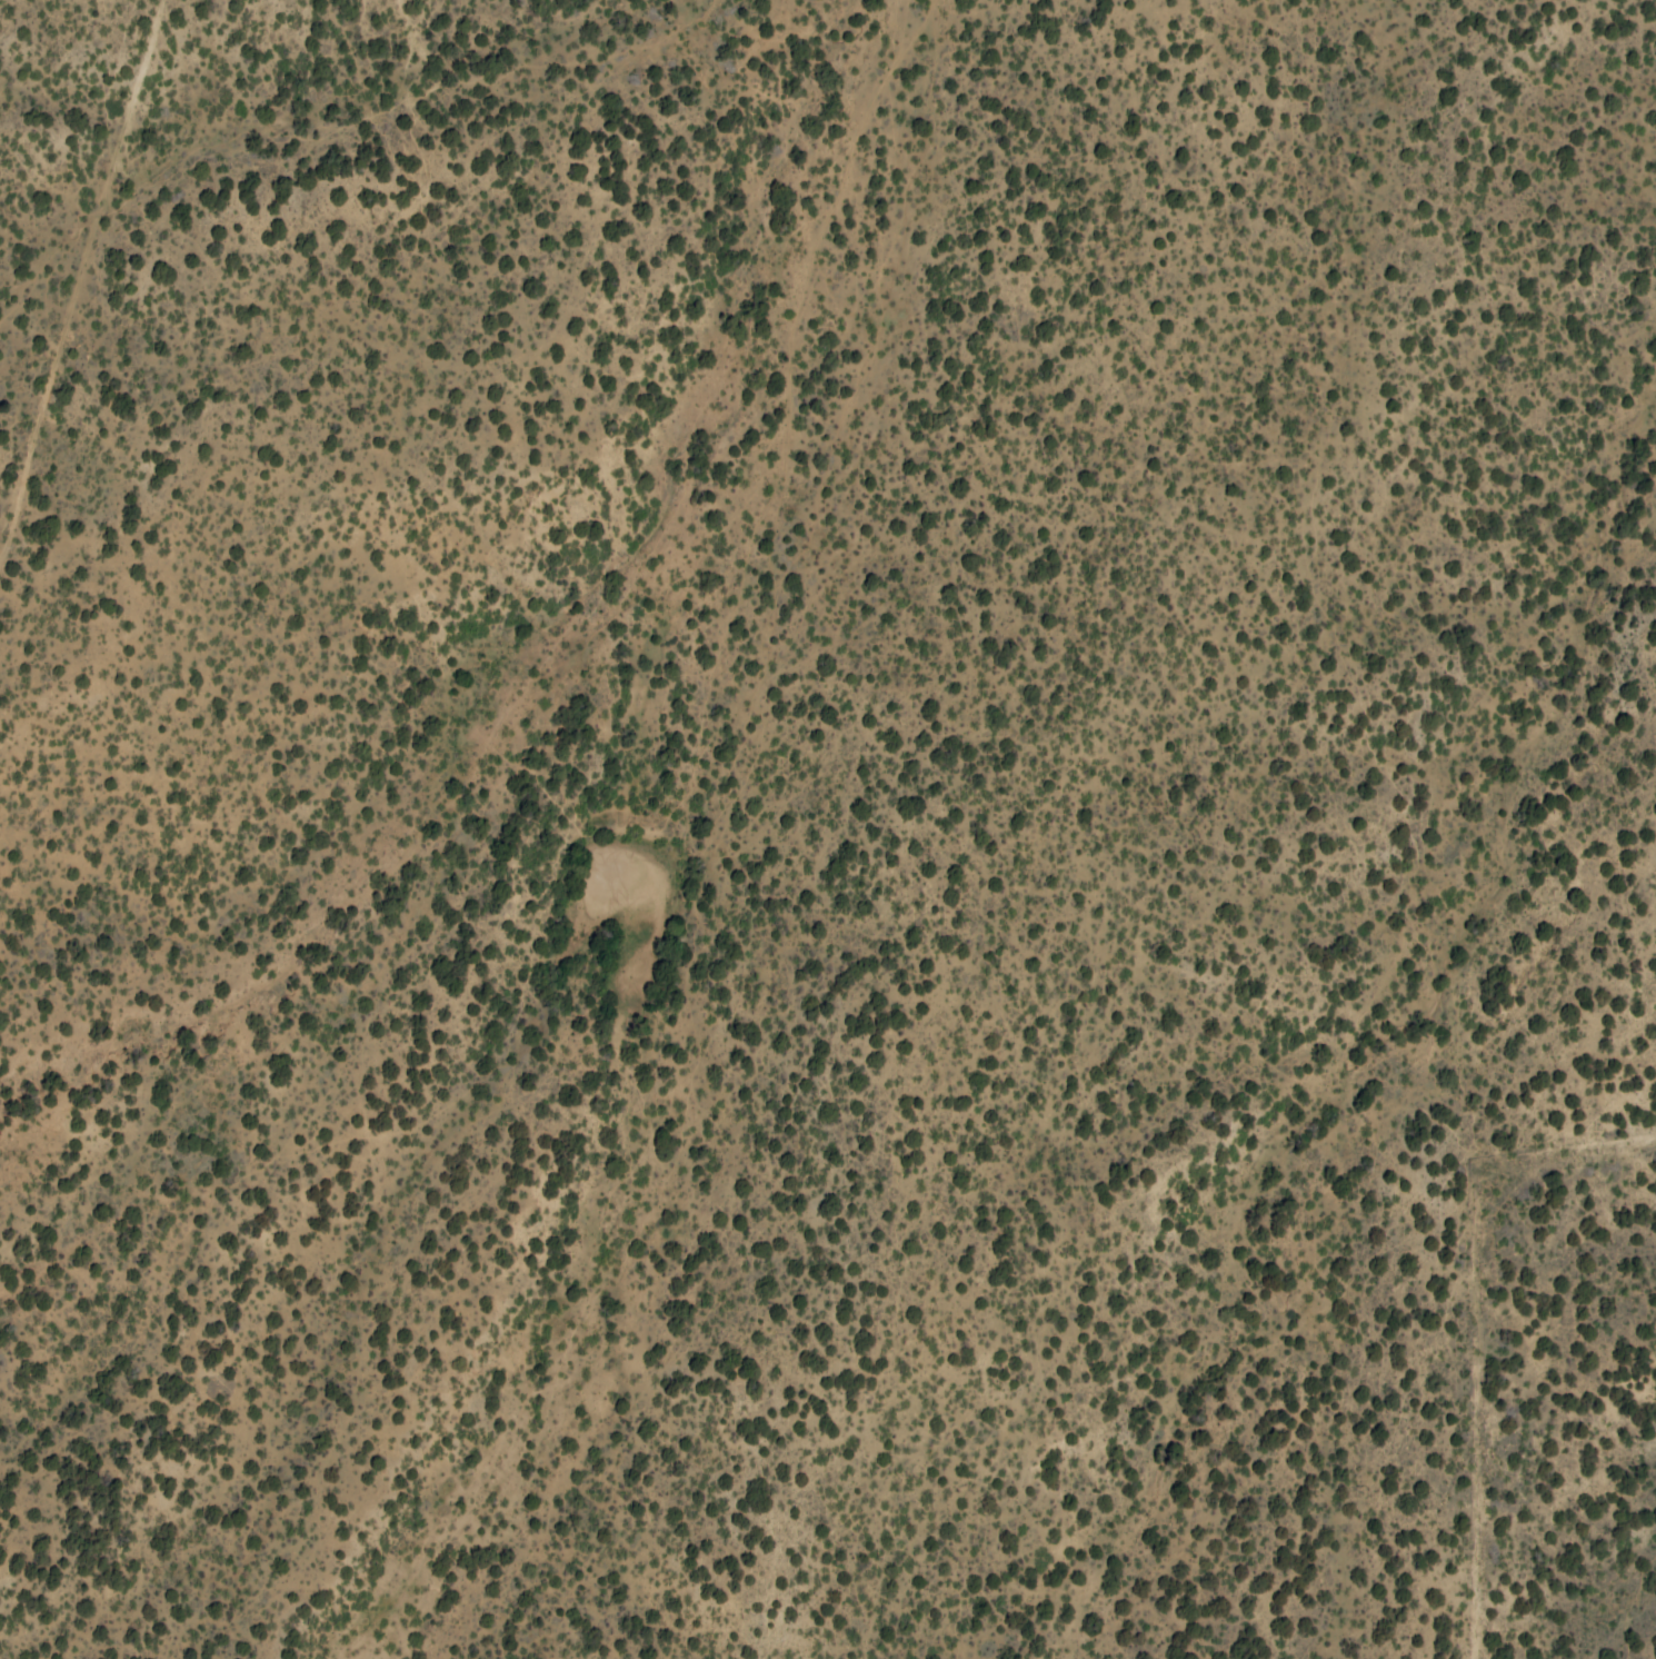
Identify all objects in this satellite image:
road: (77, 276)
road: (784, 410)

